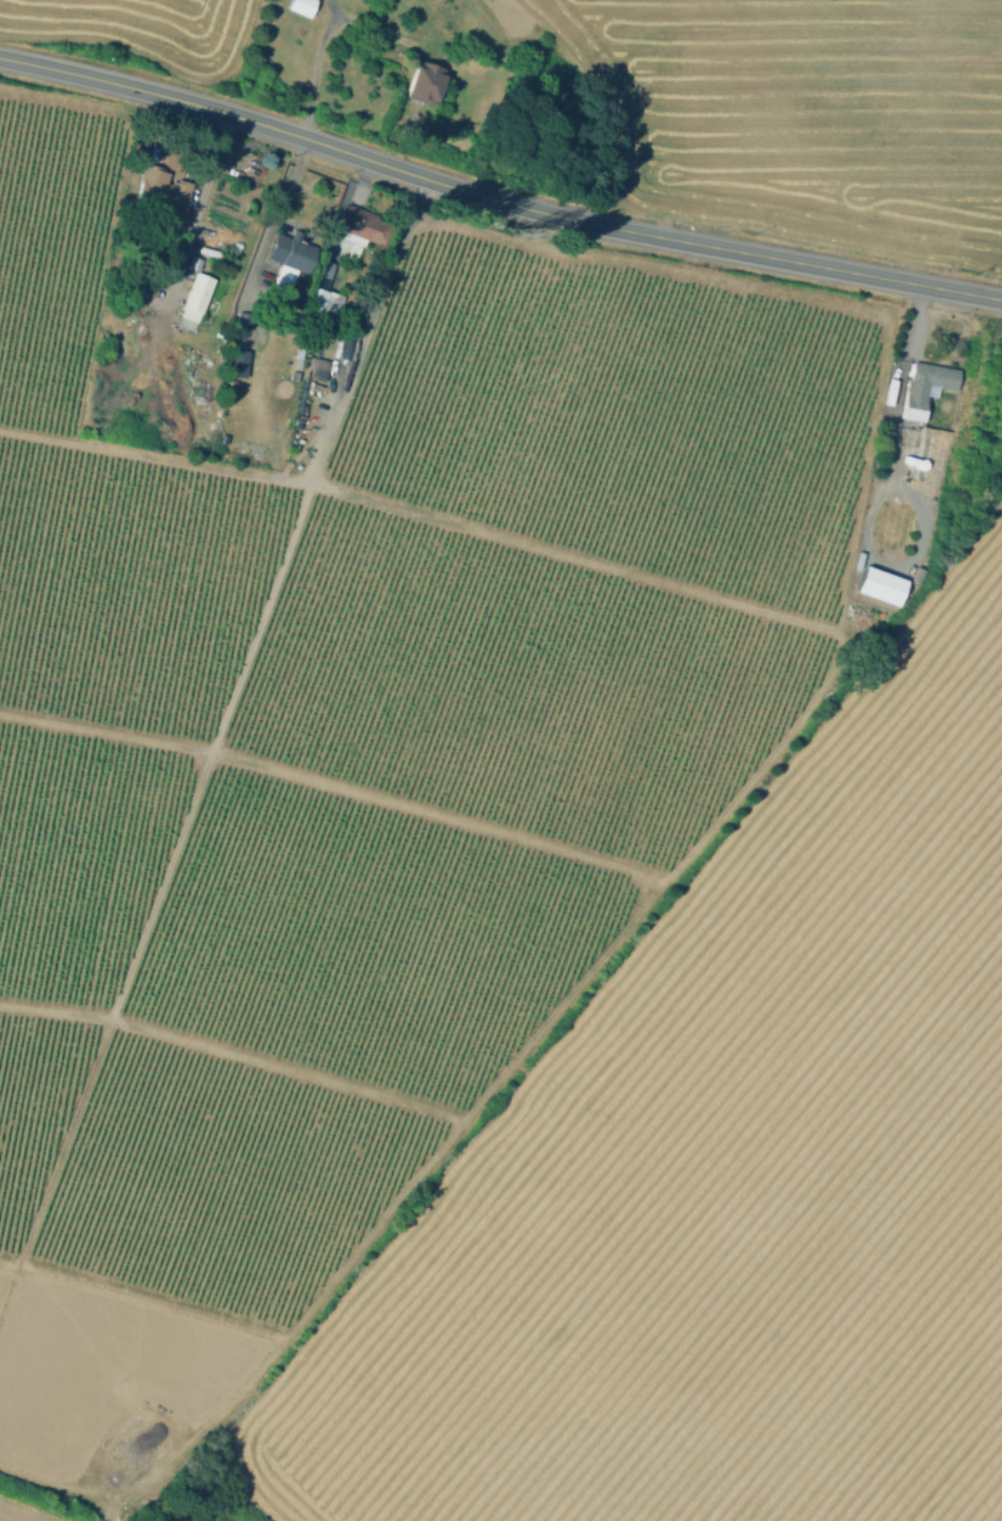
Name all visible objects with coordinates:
building: (299, 6)
crop: (144, 30)
road: (314, 74)
building: (425, 83)
crop: (804, 119)
building: (162, 193)
road: (495, 202)
road: (196, 208)
road: (269, 223)
building: (369, 226)
building: (354, 254)
building: (298, 256)
building: (195, 261)
building: (286, 281)
building: (199, 290)
building: (324, 302)
road: (362, 329)
building: (927, 381)
building: (914, 411)
building: (909, 424)
building: (919, 455)
road: (154, 456)
road: (900, 489)
road: (565, 554)
building: (877, 584)
building: (895, 594)
road: (161, 877)
road: (650, 892)
crop: (724, 1180)
crop: (36, 1508)

